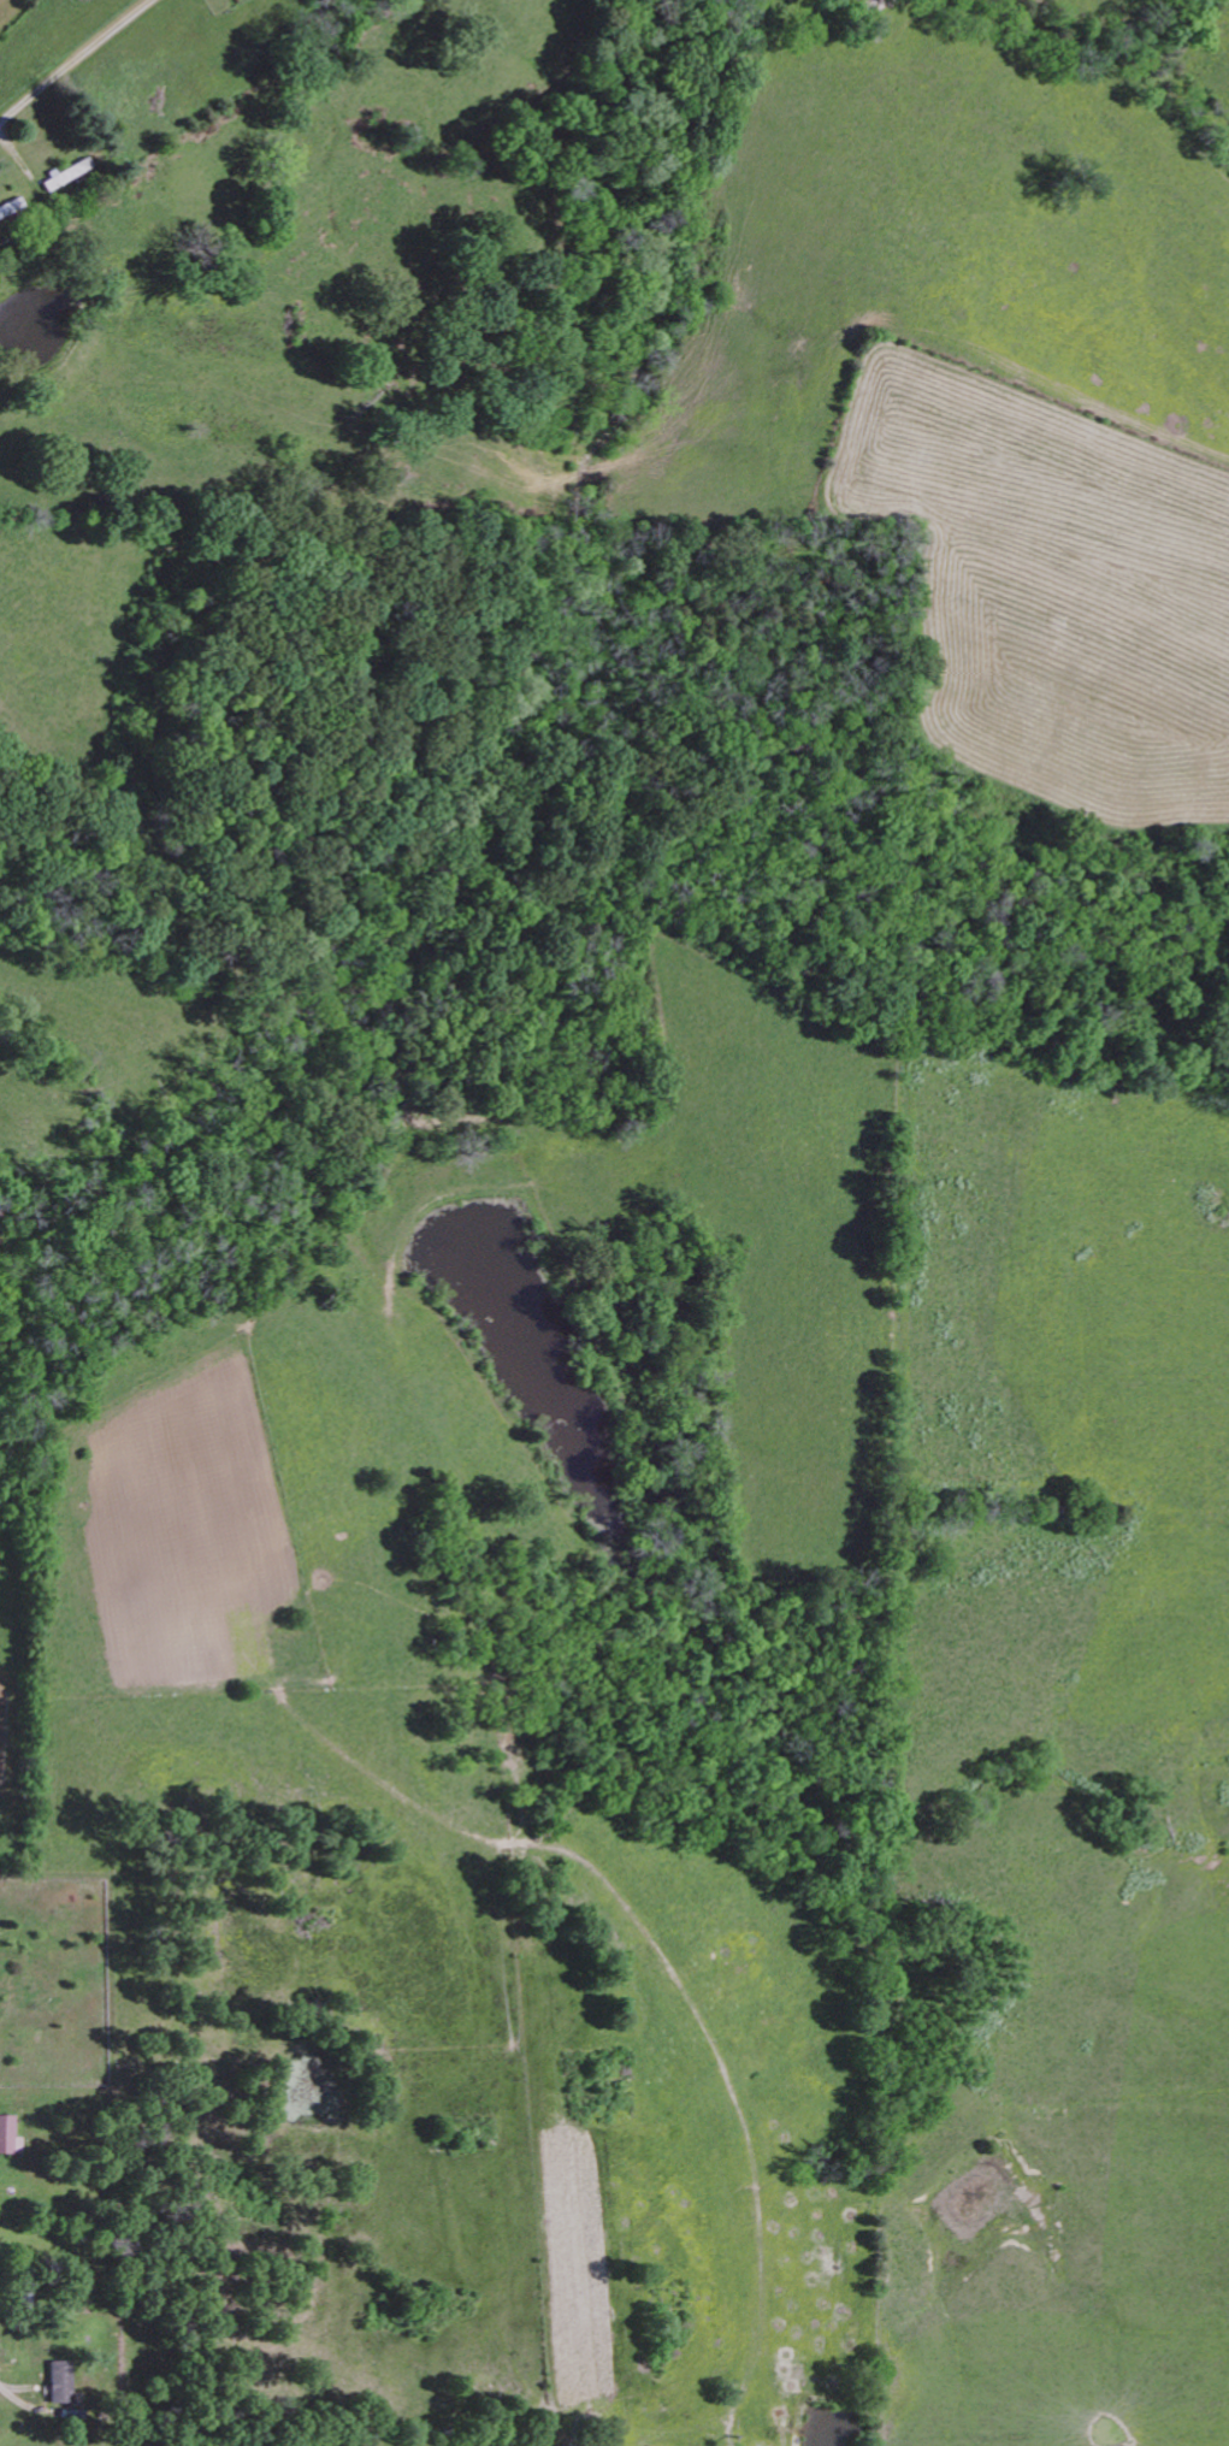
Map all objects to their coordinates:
road: (71, 60)
building: (67, 172)
building: (10, 2137)
building: (60, 2381)
road: (12, 2393)

